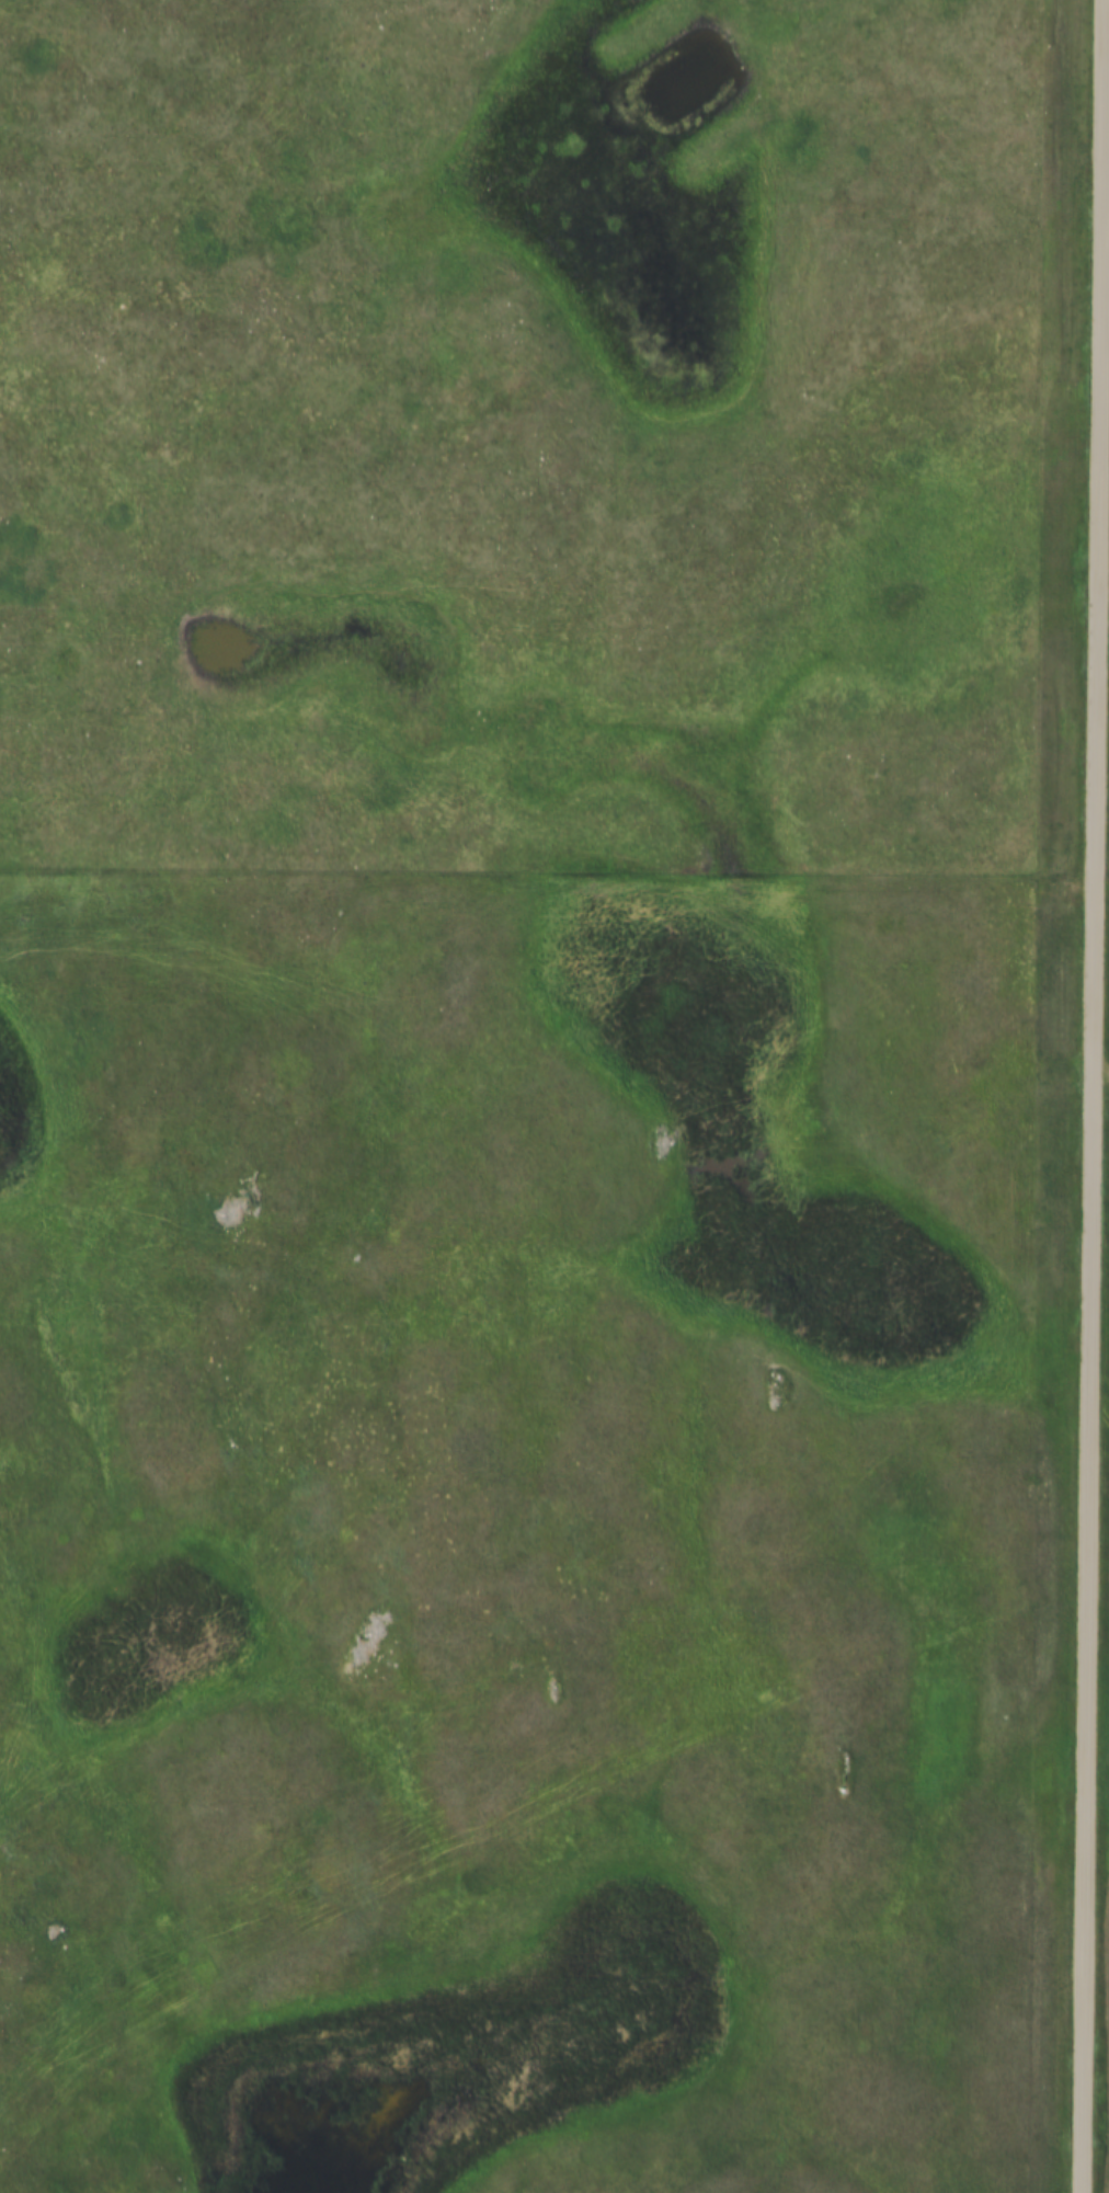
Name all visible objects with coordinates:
road: (1096, 1096)

